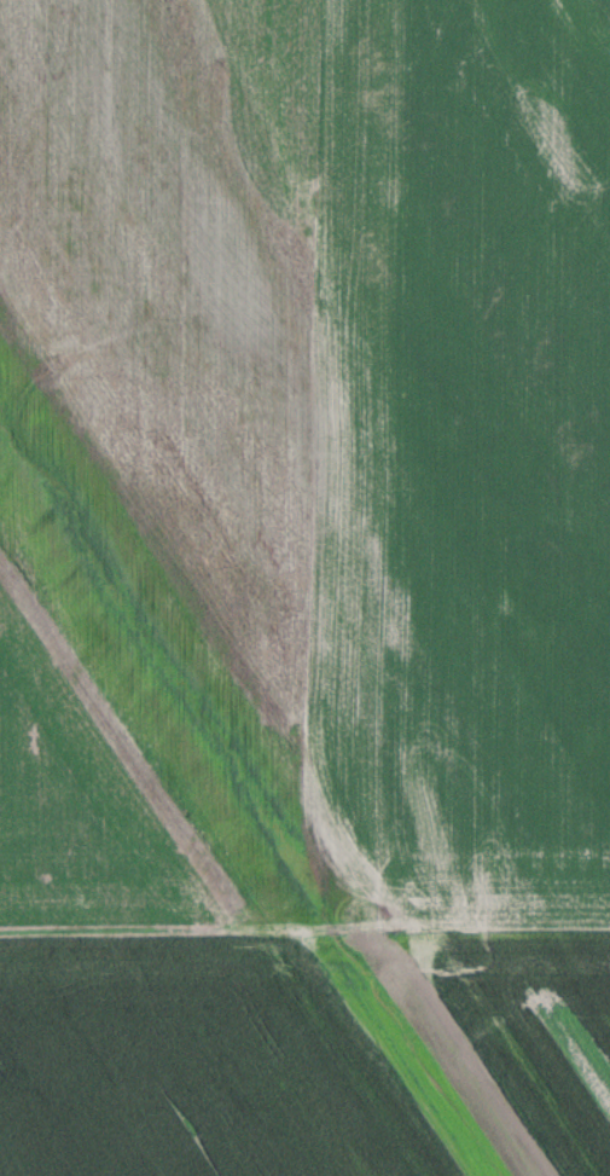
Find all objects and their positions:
crop: (169, 460)
crop: (474, 460)
crop: (314, 1055)

